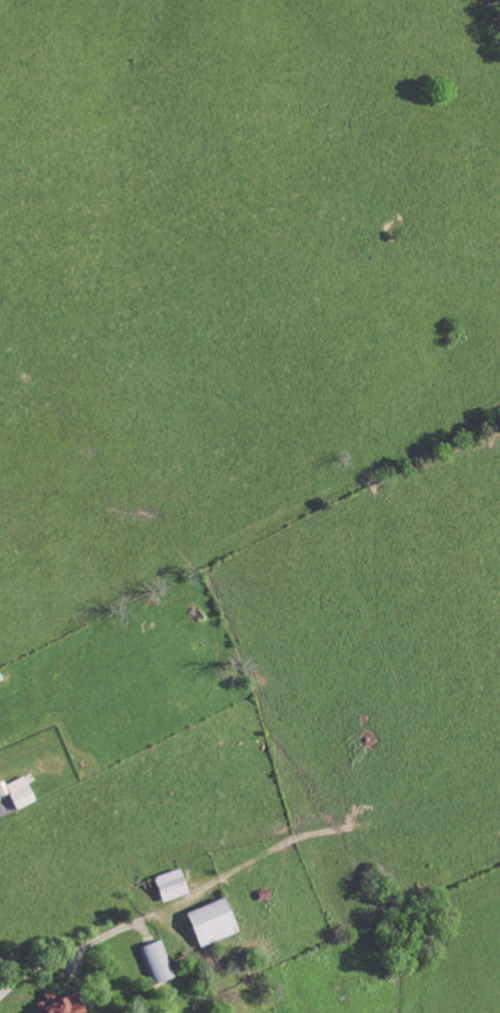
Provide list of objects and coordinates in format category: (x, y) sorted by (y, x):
building: (4, 787)
building: (23, 791)
building: (175, 883)
building: (217, 920)
road: (95, 937)
building: (159, 961)
building: (65, 1003)

